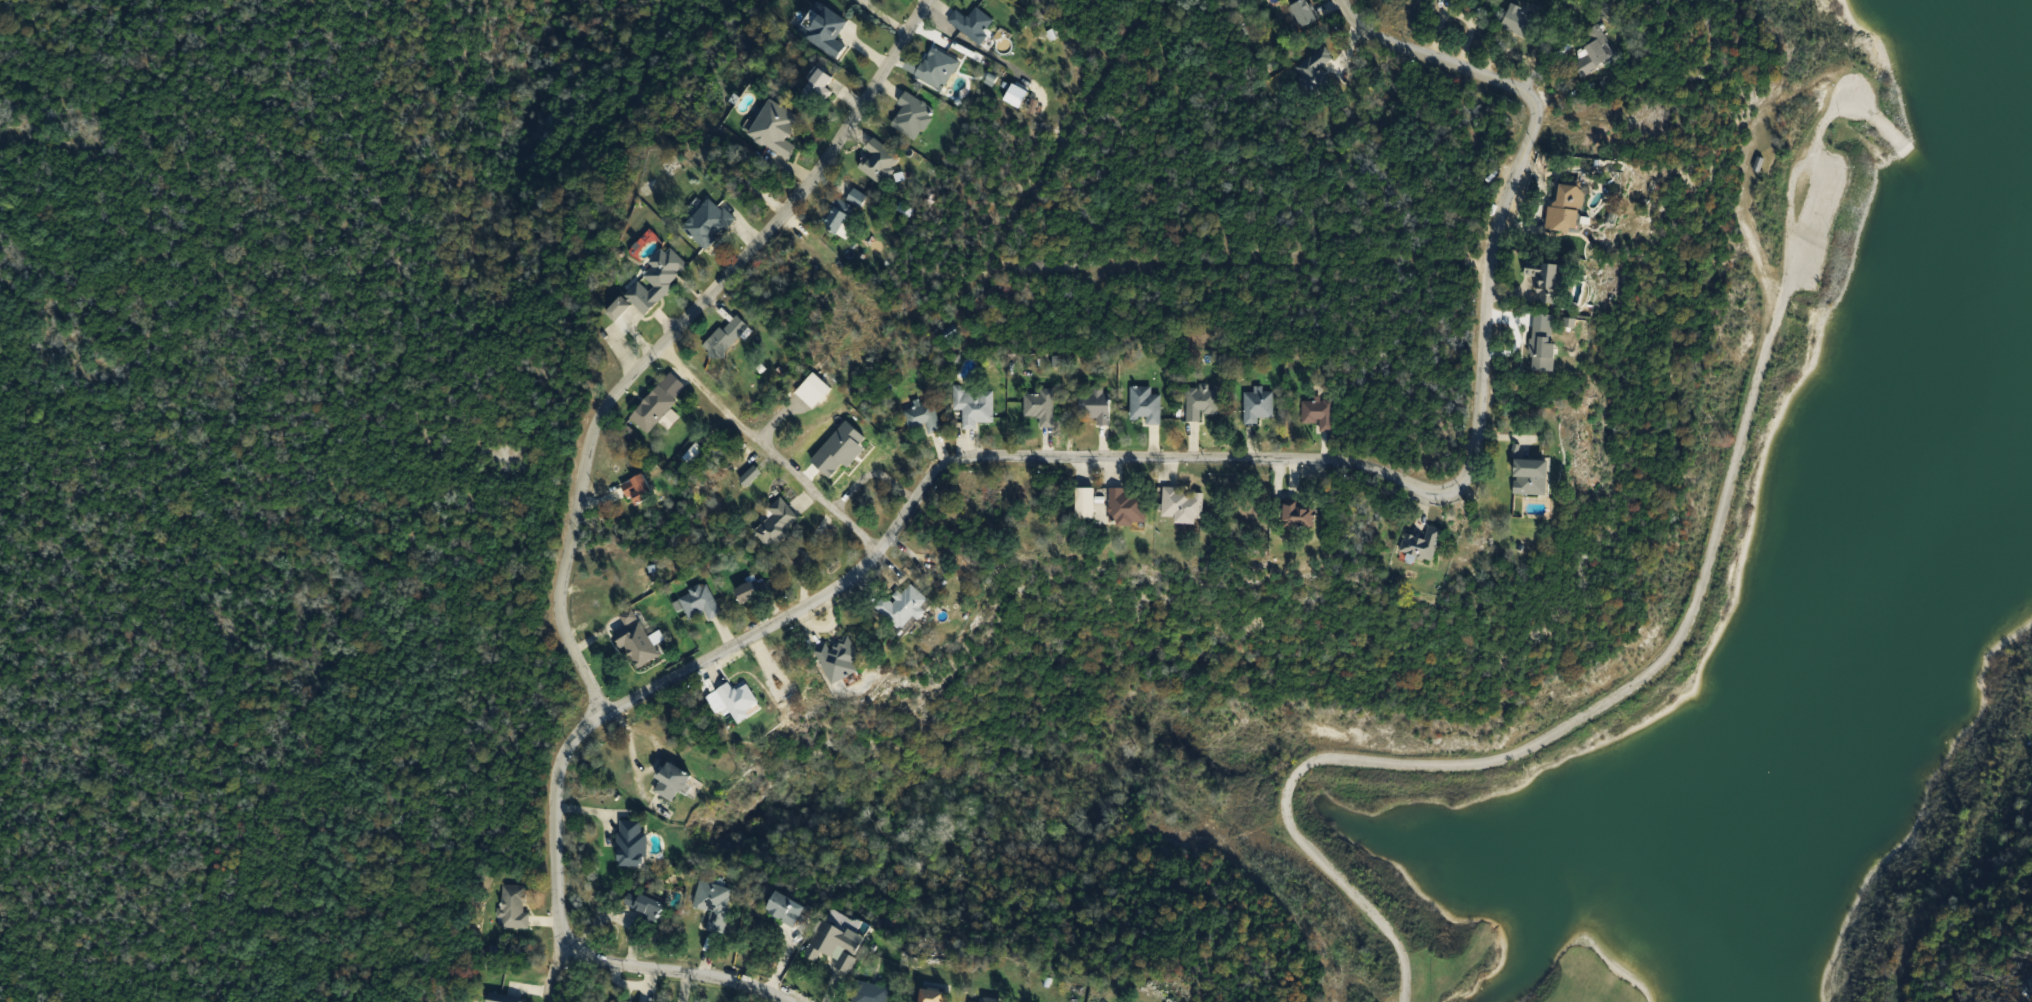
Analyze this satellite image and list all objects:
building: (1304, 13)
building: (1520, 21)
building: (973, 24)
building: (827, 31)
road: (1125, 32)
building: (1592, 52)
building: (938, 68)
building: (1315, 72)
building: (820, 86)
building: (913, 117)
building: (776, 128)
building: (880, 160)
building: (1896, 173)
building: (1567, 208)
building: (843, 212)
building: (709, 224)
road: (1109, 272)
building: (1552, 281)
building: (652, 284)
road: (670, 334)
building: (727, 338)
building: (1541, 346)
building: (1202, 403)
building: (1096, 404)
building: (1145, 405)
building: (974, 406)
building: (1258, 406)
building: (1041, 407)
building: (654, 409)
building: (1320, 414)
building: (923, 416)
road: (762, 451)
road: (1295, 458)
park: (275, 471)
building: (1531, 477)
building: (638, 490)
building: (1085, 504)
building: (1184, 505)
building: (1127, 507)
building: (1298, 514)
building: (778, 524)
building: (1422, 544)
building: (749, 593)
building: (700, 603)
building: (903, 607)
building: (637, 641)
building: (839, 659)
building: (738, 700)
road: (1473, 760)
building: (672, 783)
building: (632, 845)
building: (714, 903)
building: (645, 905)
building: (514, 907)
building: (786, 910)
road: (560, 930)
building: (835, 946)
road: (555, 970)
building: (870, 993)
building: (932, 996)
building: (502, 998)
building: (616, 1001)
building: (972, 1001)
building: (989, 1001)

